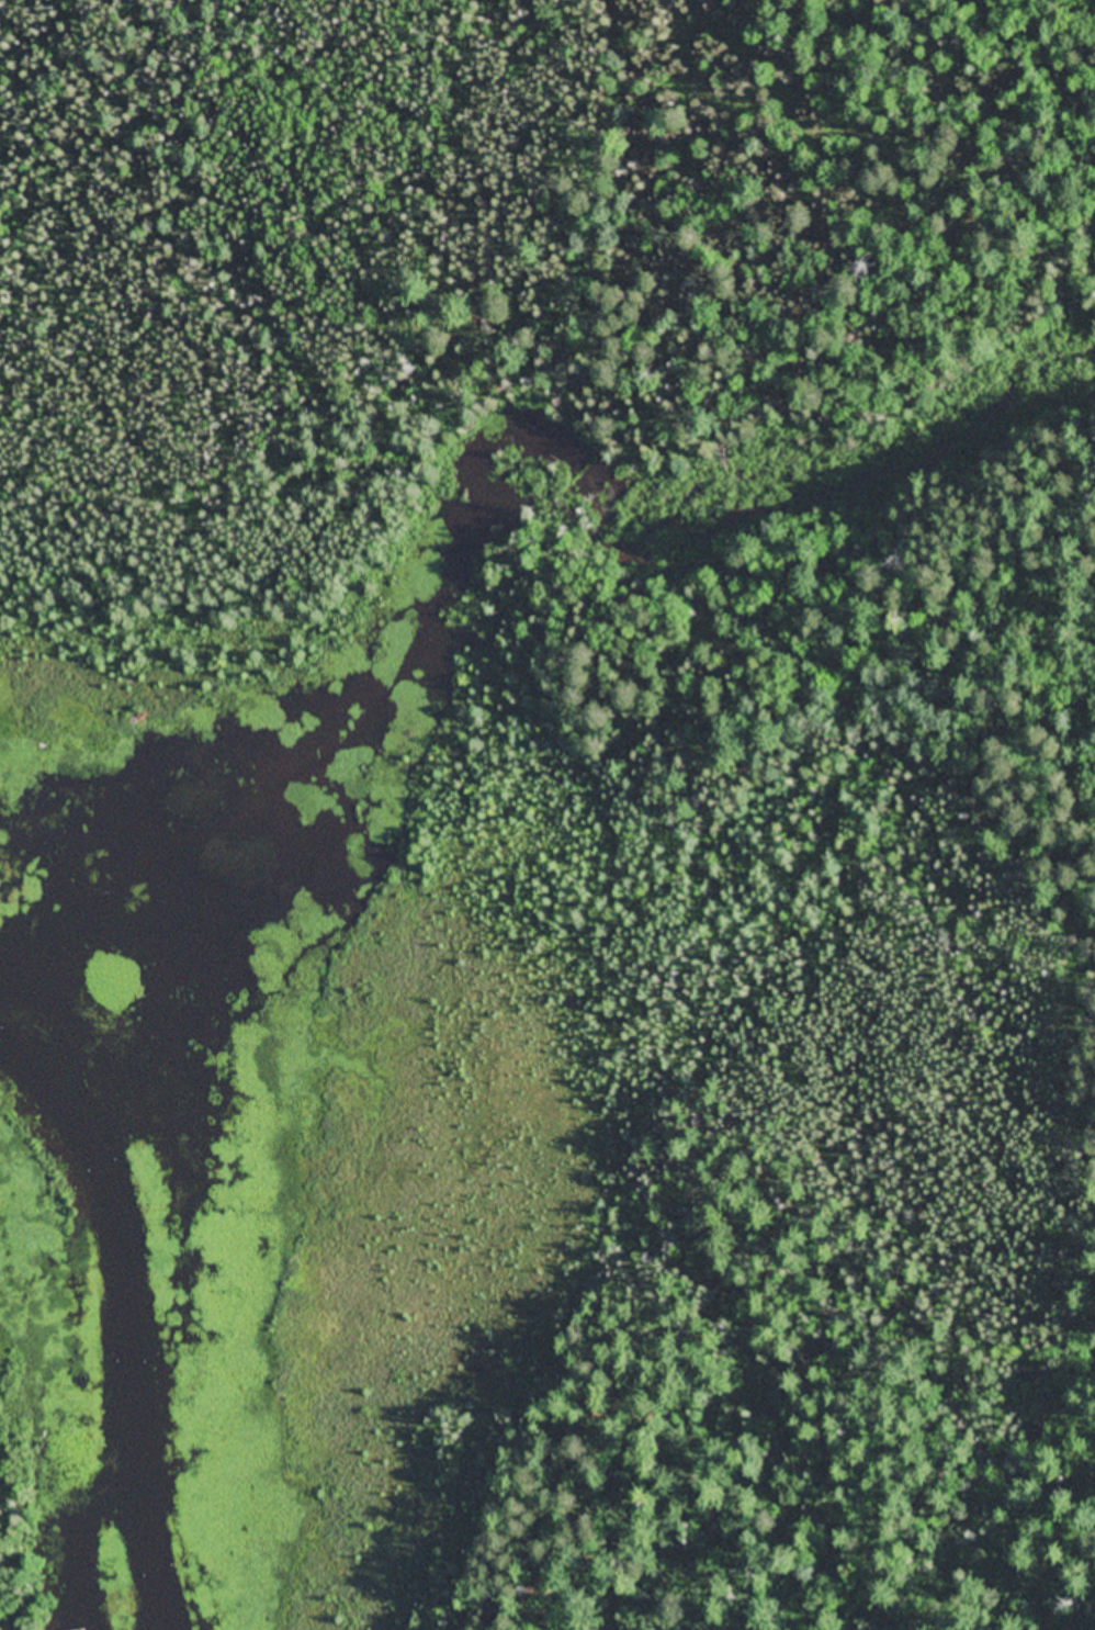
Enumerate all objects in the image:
river: (47, 987)
river: (154, 1300)

